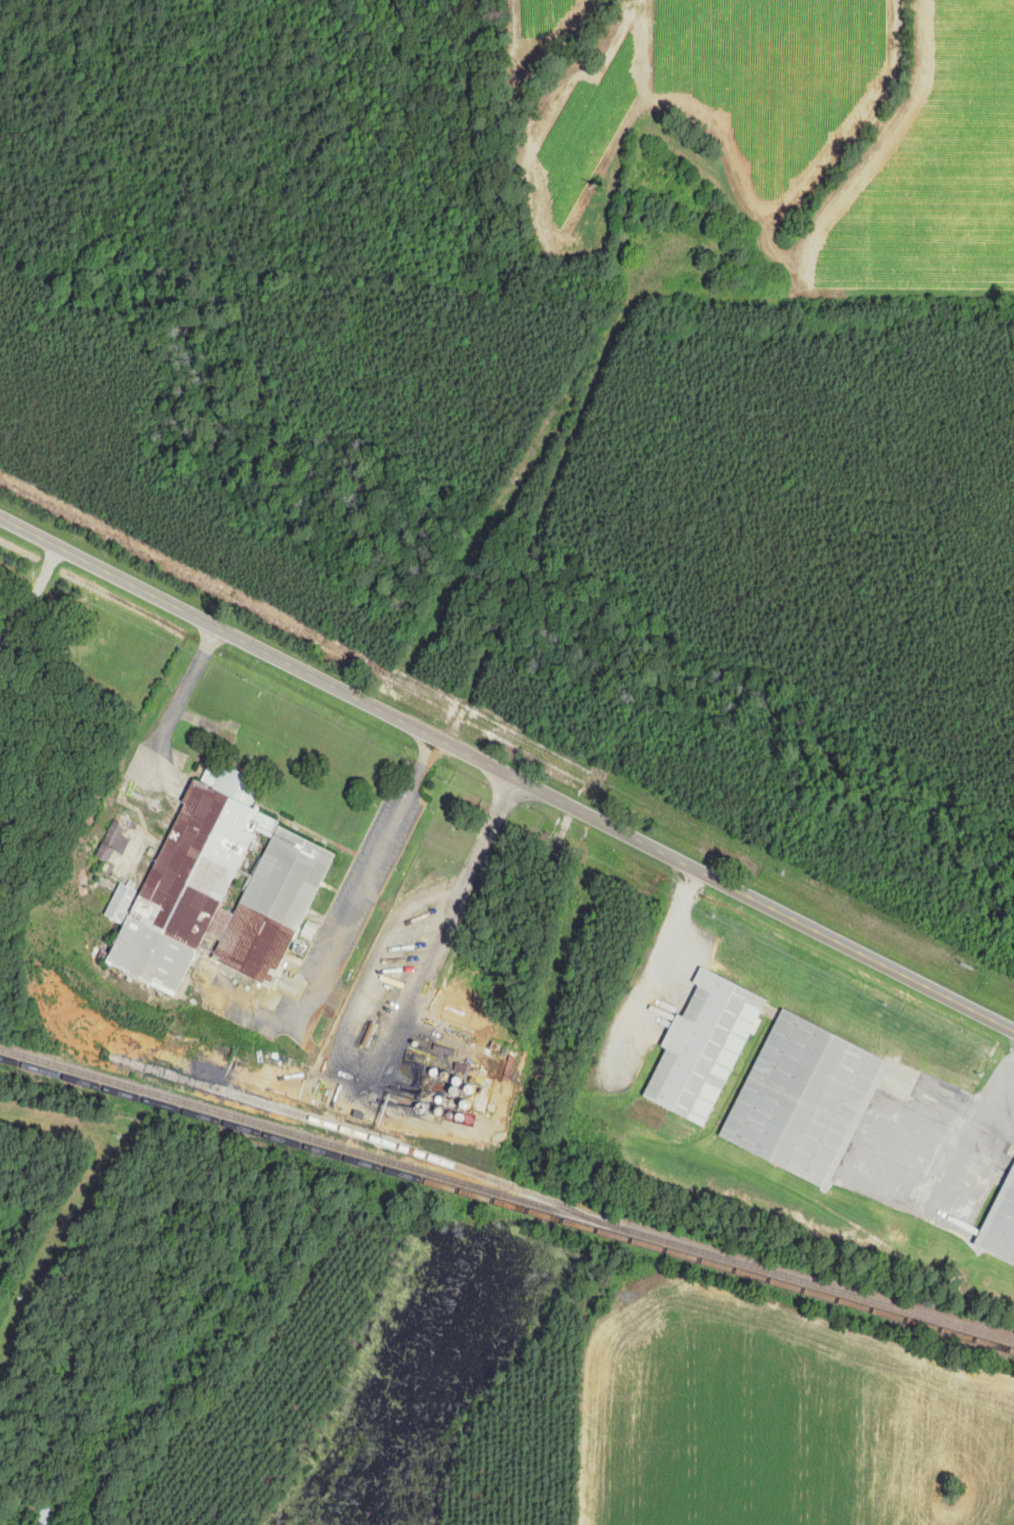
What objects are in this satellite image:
road: (595, 325)
road: (179, 698)
road: (507, 775)
building: (112, 842)
building: (218, 889)
road: (358, 900)
building: (703, 1047)
road: (390, 1056)
building: (805, 1098)
railway: (367, 1135)
railway: (507, 1195)
railway: (506, 1208)
building: (1001, 1225)

